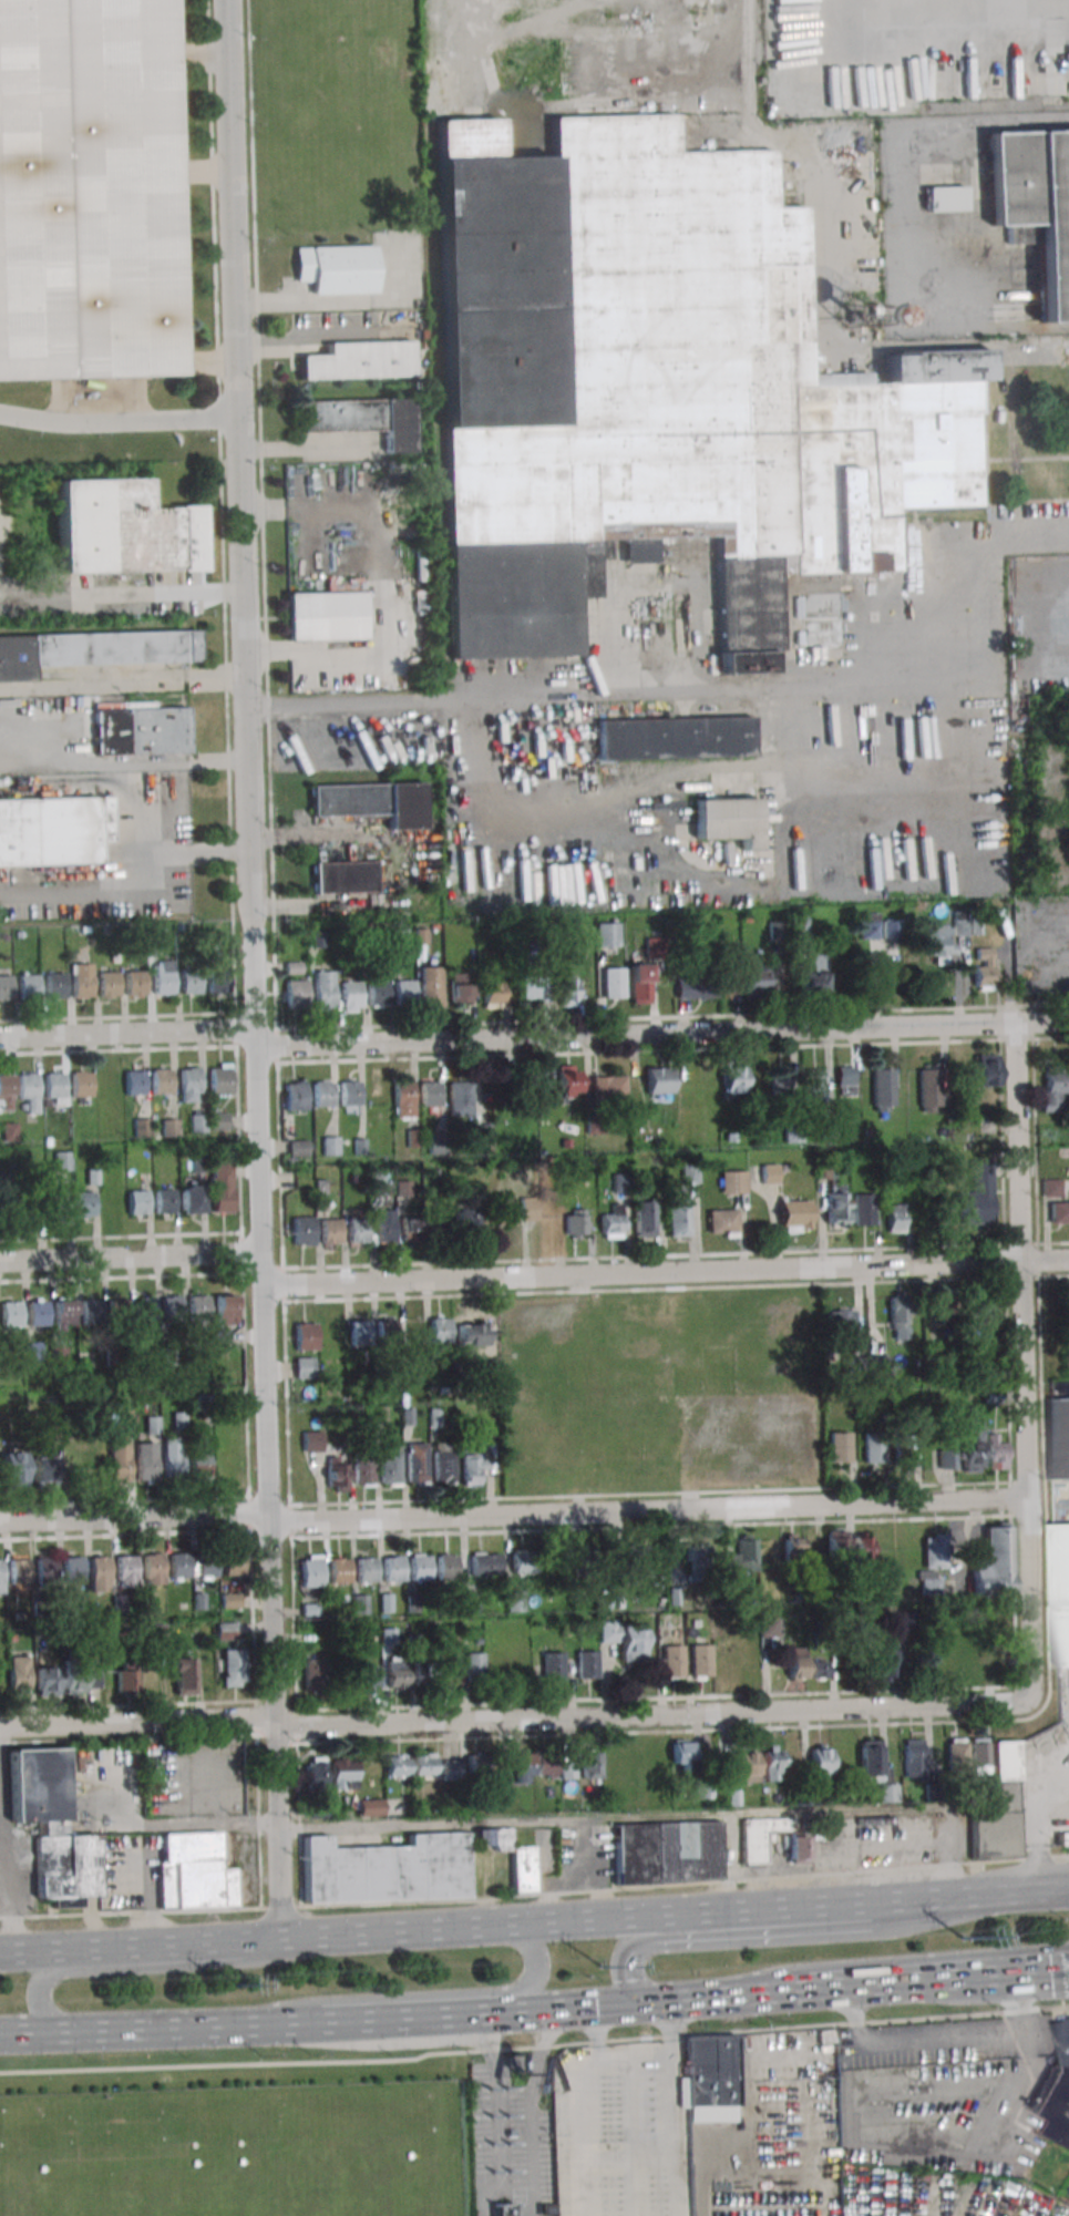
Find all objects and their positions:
road: (894, 3)
road: (614, 99)
road: (907, 163)
road: (833, 179)
building: (86, 189)
building: (945, 198)
building: (1036, 203)
building: (337, 268)
building: (859, 315)
road: (998, 330)
building: (359, 360)
building: (658, 389)
road: (117, 419)
building: (362, 419)
building: (123, 529)
building: (326, 615)
building: (93, 650)
road: (121, 683)
road: (619, 698)
building: (141, 731)
building: (674, 738)
building: (371, 802)
building: (727, 820)
building: (54, 830)
road: (237, 851)
building: (345, 876)
road: (130, 889)
building: (960, 926)
building: (799, 927)
building: (606, 934)
building: (777, 934)
building: (157, 936)
building: (937, 943)
building: (983, 968)
road: (249, 970)
building: (813, 976)
building: (163, 977)
building: (217, 978)
building: (754, 978)
building: (730, 979)
building: (81, 981)
building: (189, 982)
building: (135, 983)
building: (613, 983)
building: (109, 984)
building: (639, 984)
building: (28, 985)
building: (55, 985)
building: (431, 986)
building: (6, 987)
building: (459, 987)
building: (533, 987)
building: (696, 987)
building: (323, 989)
building: (404, 991)
building: (566, 992)
building: (378, 993)
building: (296, 994)
building: (492, 994)
building: (351, 995)
road: (533, 1046)
building: (985, 1069)
building: (734, 1078)
building: (220, 1079)
building: (658, 1080)
building: (844, 1080)
building: (162, 1081)
building: (134, 1083)
building: (782, 1083)
building: (81, 1084)
building: (189, 1084)
building: (524, 1084)
building: (568, 1084)
building: (815, 1085)
building: (54, 1087)
building: (607, 1087)
road: (1011, 1088)
building: (882, 1089)
building: (928, 1090)
building: (1053, 1090)
building: (6, 1091)
building: (487, 1091)
building: (28, 1092)
building: (322, 1094)
building: (430, 1094)
building: (350, 1095)
building: (295, 1096)
building: (403, 1098)
building: (460, 1098)
building: (219, 1121)
building: (197, 1122)
building: (141, 1127)
building: (482, 1132)
building: (330, 1146)
building: (299, 1148)
building: (63, 1160)
building: (769, 1173)
building: (620, 1182)
building: (733, 1182)
building: (374, 1183)
building: (222, 1187)
building: (1051, 1188)
building: (975, 1196)
building: (192, 1199)
building: (138, 1201)
building: (164, 1201)
building: (59, 1204)
building: (84, 1204)
building: (836, 1207)
building: (528, 1209)
building: (864, 1209)
building: (505, 1210)
building: (1059, 1212)
building: (678, 1215)
building: (794, 1215)
building: (644, 1218)
building: (895, 1218)
building: (722, 1222)
building: (465, 1223)
building: (613, 1223)
building: (576, 1224)
building: (384, 1225)
building: (413, 1228)
building: (304, 1230)
building: (358, 1230)
building: (330, 1231)
road: (129, 1261)
road: (664, 1276)
building: (172, 1306)
building: (946, 1306)
building: (145, 1309)
building: (226, 1310)
building: (898, 1310)
building: (974, 1310)
building: (38, 1312)
building: (64, 1312)
building: (117, 1312)
building: (91, 1313)
building: (198, 1313)
building: (11, 1314)
building: (841, 1321)
building: (440, 1330)
building: (413, 1331)
building: (360, 1332)
building: (387, 1332)
building: (473, 1334)
building: (305, 1335)
building: (60, 1356)
building: (86, 1360)
building: (866, 1366)
building: (304, 1367)
building: (1059, 1438)
building: (312, 1442)
building: (972, 1444)
building: (840, 1447)
building: (874, 1448)
building: (905, 1450)
building: (995, 1451)
building: (171, 1458)
building: (947, 1458)
building: (120, 1460)
building: (145, 1460)
building: (415, 1463)
building: (199, 1465)
building: (390, 1465)
building: (444, 1467)
building: (13, 1468)
building: (473, 1468)
building: (44, 1469)
building: (363, 1471)
building: (337, 1473)
road: (514, 1517)
building: (836, 1541)
building: (792, 1546)
building: (861, 1549)
building: (742, 1556)
building: (697, 1557)
building: (587, 1559)
building: (633, 1560)
building: (526, 1561)
building: (994, 1562)
building: (233, 1563)
building: (484, 1563)
building: (179, 1564)
building: (932, 1564)
building: (420, 1567)
building: (446, 1567)
building: (45, 1568)
building: (72, 1568)
building: (153, 1568)
building: (392, 1568)
building: (366, 1569)
building: (19, 1570)
building: (311, 1570)
building: (340, 1570)
building: (125, 1571)
building: (99, 1573)
building: (1, 1577)
building: (1061, 1592)
building: (230, 1600)
building: (148, 1602)
building: (768, 1628)
building: (225, 1630)
building: (155, 1635)
building: (627, 1640)
building: (670, 1659)
building: (700, 1660)
building: (473, 1663)
building: (929, 1663)
building: (976, 1663)
building: (586, 1664)
building: (955, 1664)
building: (552, 1665)
building: (885, 1665)
building: (232, 1668)
building: (795, 1668)
building: (818, 1669)
building: (395, 1671)
building: (450, 1671)
building: (312, 1673)
building: (182, 1675)
building: (31, 1676)
building: (366, 1676)
building: (126, 1679)
building: (80, 1680)
road: (513, 1719)
building: (680, 1751)
building: (955, 1755)
building: (978, 1756)
building: (913, 1757)
building: (868, 1761)
building: (772, 1763)
building: (544, 1764)
building: (590, 1764)
building: (395, 1765)
building: (568, 1765)
building: (748, 1765)
building: (820, 1765)
building: (424, 1766)
building: (475, 1767)
building: (520, 1767)
building: (449, 1769)
building: (313, 1773)
building: (342, 1773)
building: (886, 1793)
building: (370, 1807)
building: (998, 1808)
road: (446, 1823)
road: (177, 1826)
building: (51, 1827)
road: (1044, 1829)
building: (758, 1837)
building: (492, 1838)
building: (1062, 1838)
building: (796, 1848)
building: (666, 1851)
building: (386, 1869)
building: (523, 1869)
building: (195, 1870)
road: (8, 1875)
road: (1018, 1892)
road: (534, 1895)
road: (816, 1905)
road: (443, 1928)
road: (792, 1933)
power tower: (962, 1938)
road: (142, 1947)
road: (30, 1951)
road: (895, 1960)
road: (146, 1968)
power tower: (604, 1969)
road: (1059, 1970)
road: (938, 1980)
power tower: (227, 1988)
road: (422, 1994)
road: (667, 2000)
traffic signals: (635, 2003)
road: (1020, 2003)
road: (423, 2018)
road: (666, 2021)
road: (598, 2025)
road: (169, 2028)
road: (937, 2043)
road: (534, 2045)
building: (709, 2079)
building: (1057, 2089)
road: (497, 2109)
road: (530, 2111)
road: (584, 2122)
road: (672, 2128)
road: (871, 2140)
building: (229, 2175)
storage tank: (229, 2175)
building: (503, 2209)

